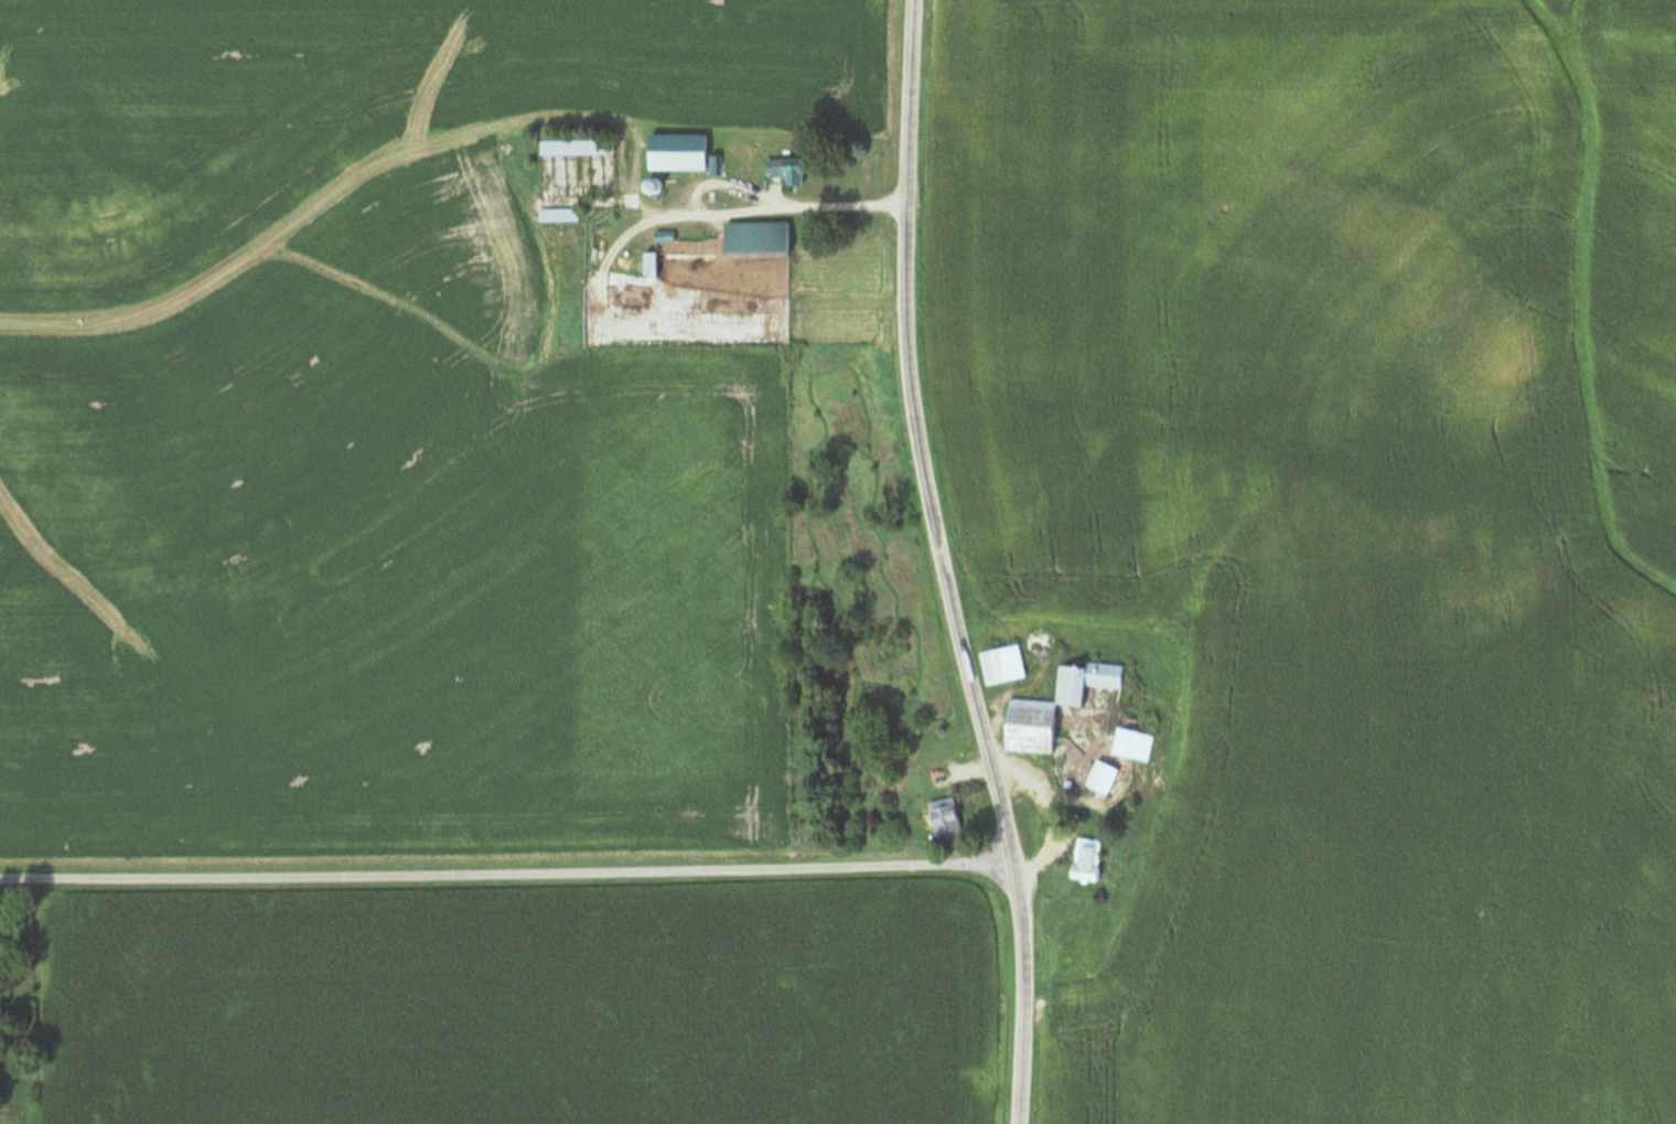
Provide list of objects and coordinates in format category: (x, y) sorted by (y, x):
building: (577, 148)
building: (788, 171)
road: (745, 213)
road: (667, 221)
building: (652, 265)
road: (945, 565)
building: (1003, 665)
building: (1054, 707)
building: (1132, 739)
building: (963, 773)
building: (1102, 778)
building: (945, 820)
building: (1086, 861)
road: (507, 877)

